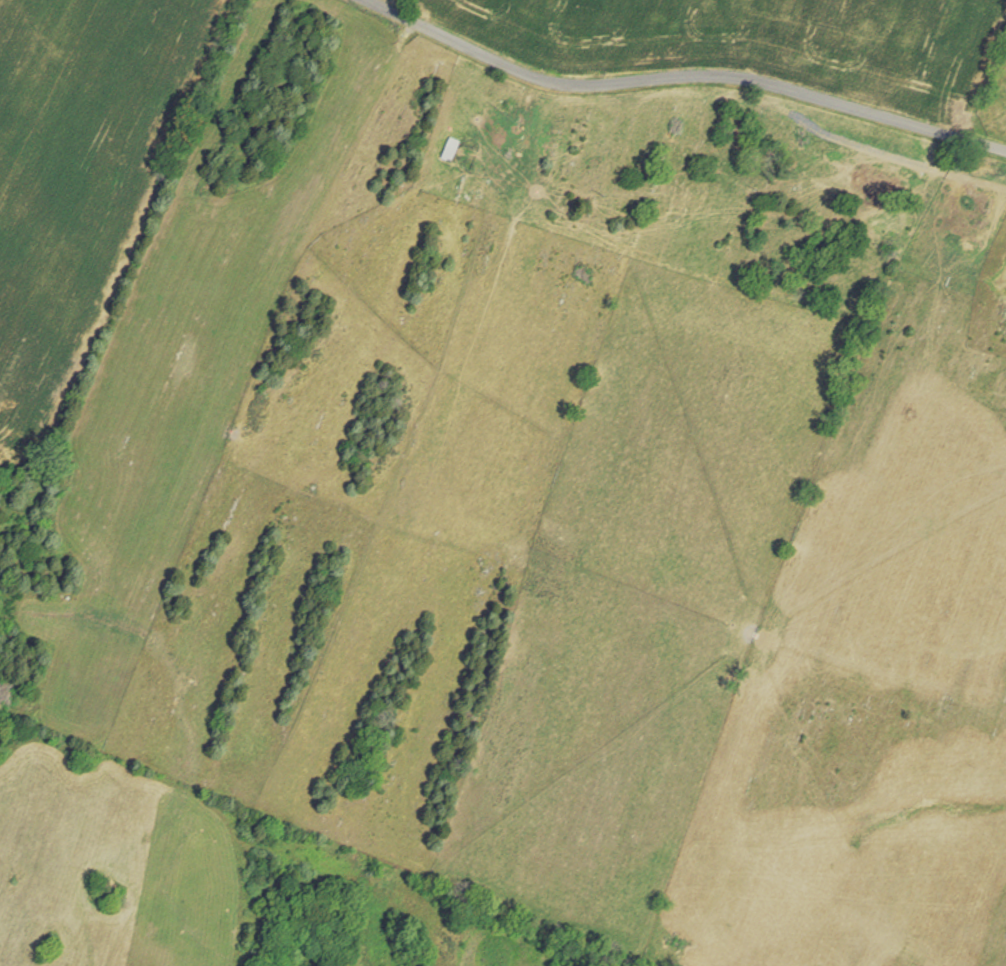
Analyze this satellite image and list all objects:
road: (684, 80)

